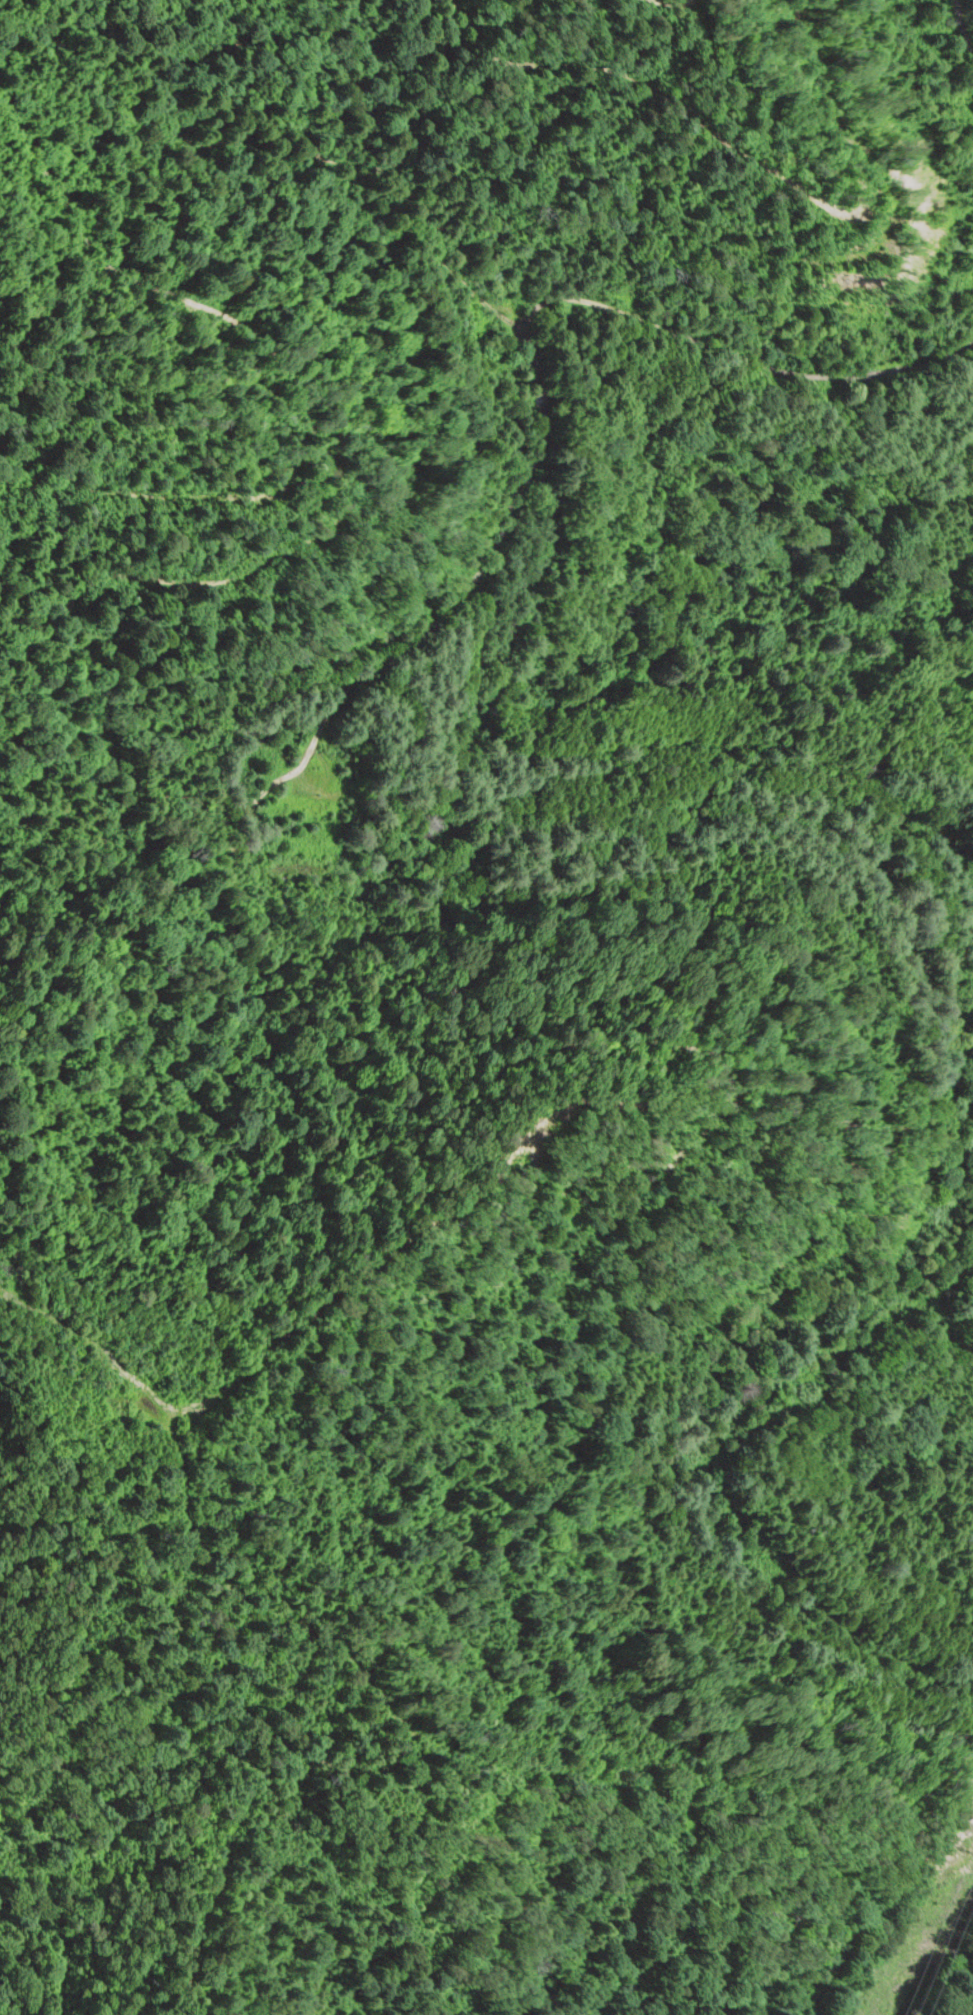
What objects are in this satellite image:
power tower: (959, 1870)

